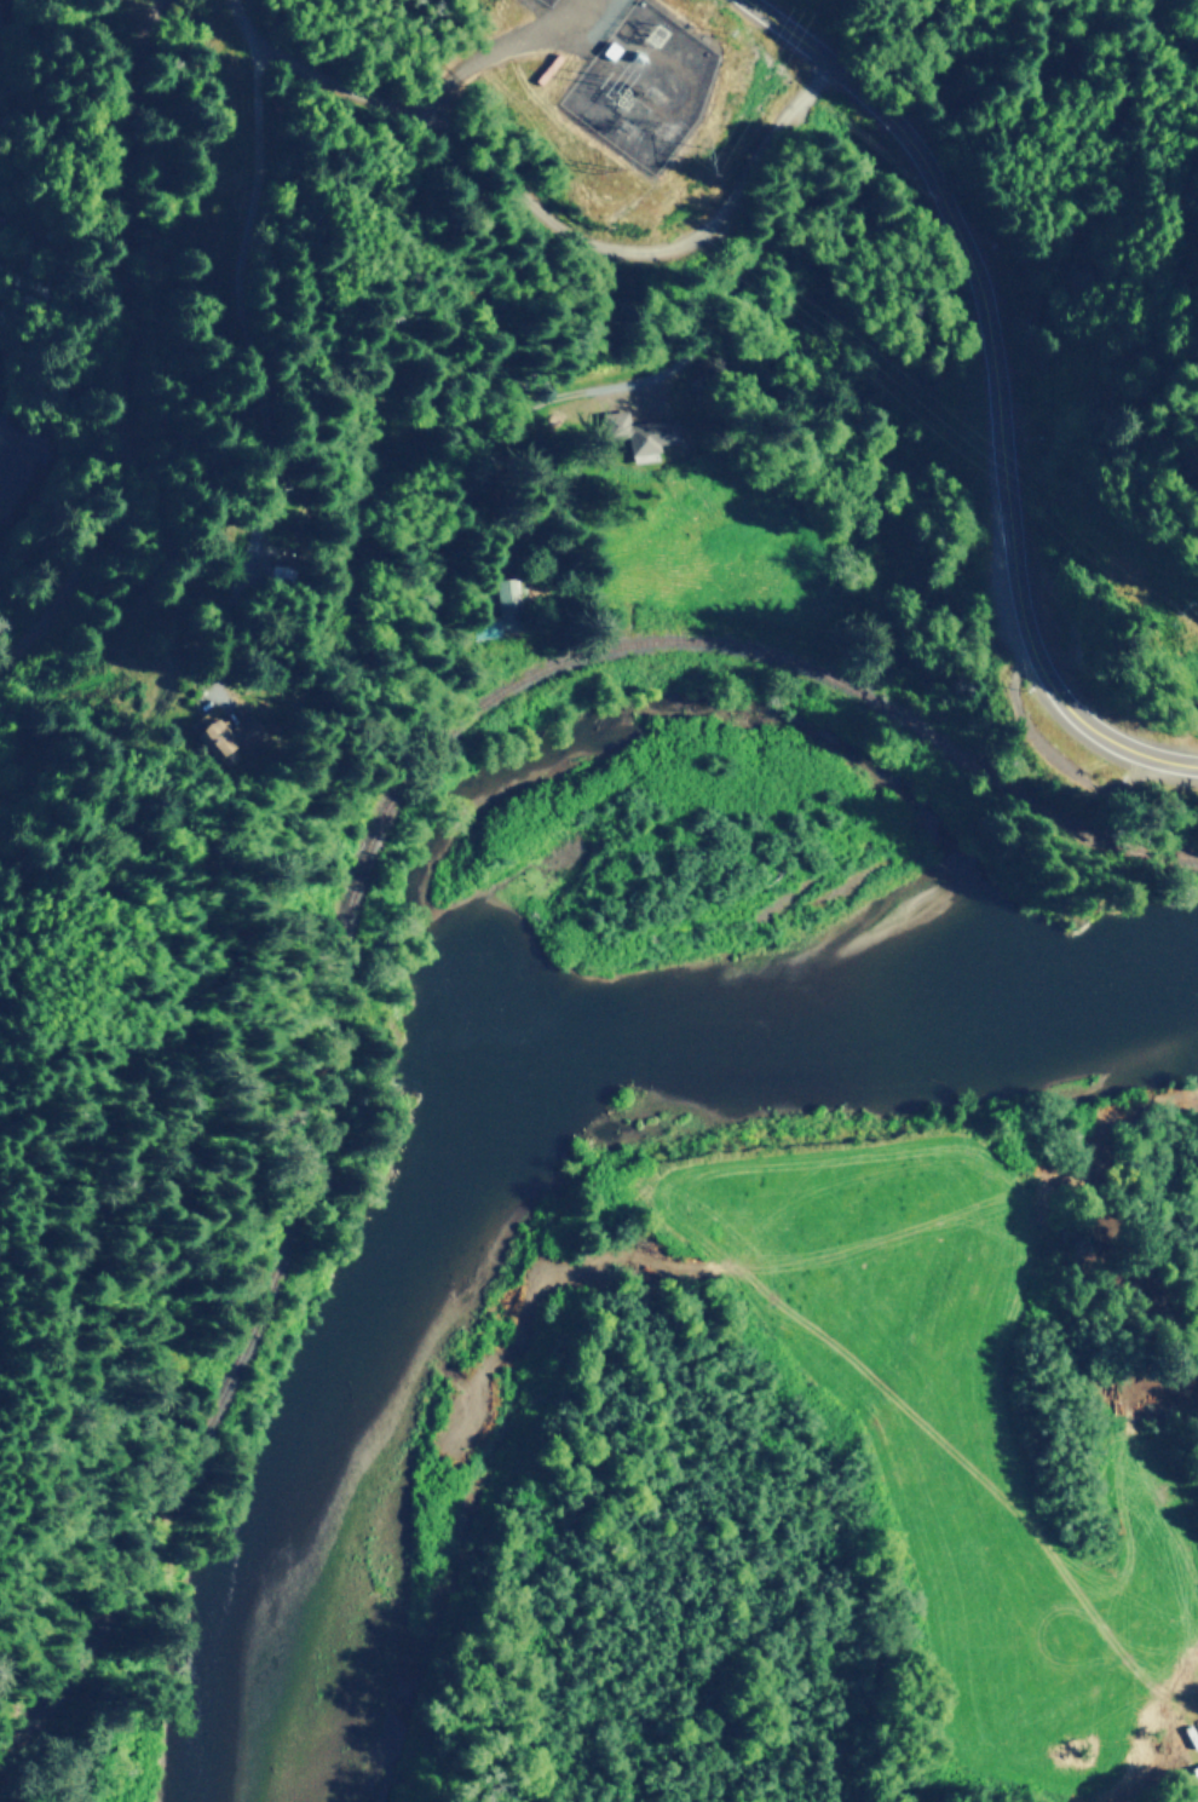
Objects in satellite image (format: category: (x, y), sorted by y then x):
road: (902, 29)
power substation: (640, 85)
road: (540, 209)
road: (227, 363)
road: (1009, 382)
building: (506, 597)
building: (213, 730)
railway: (361, 858)
river: (497, 1115)
crop: (958, 1435)
building: (1192, 1798)

